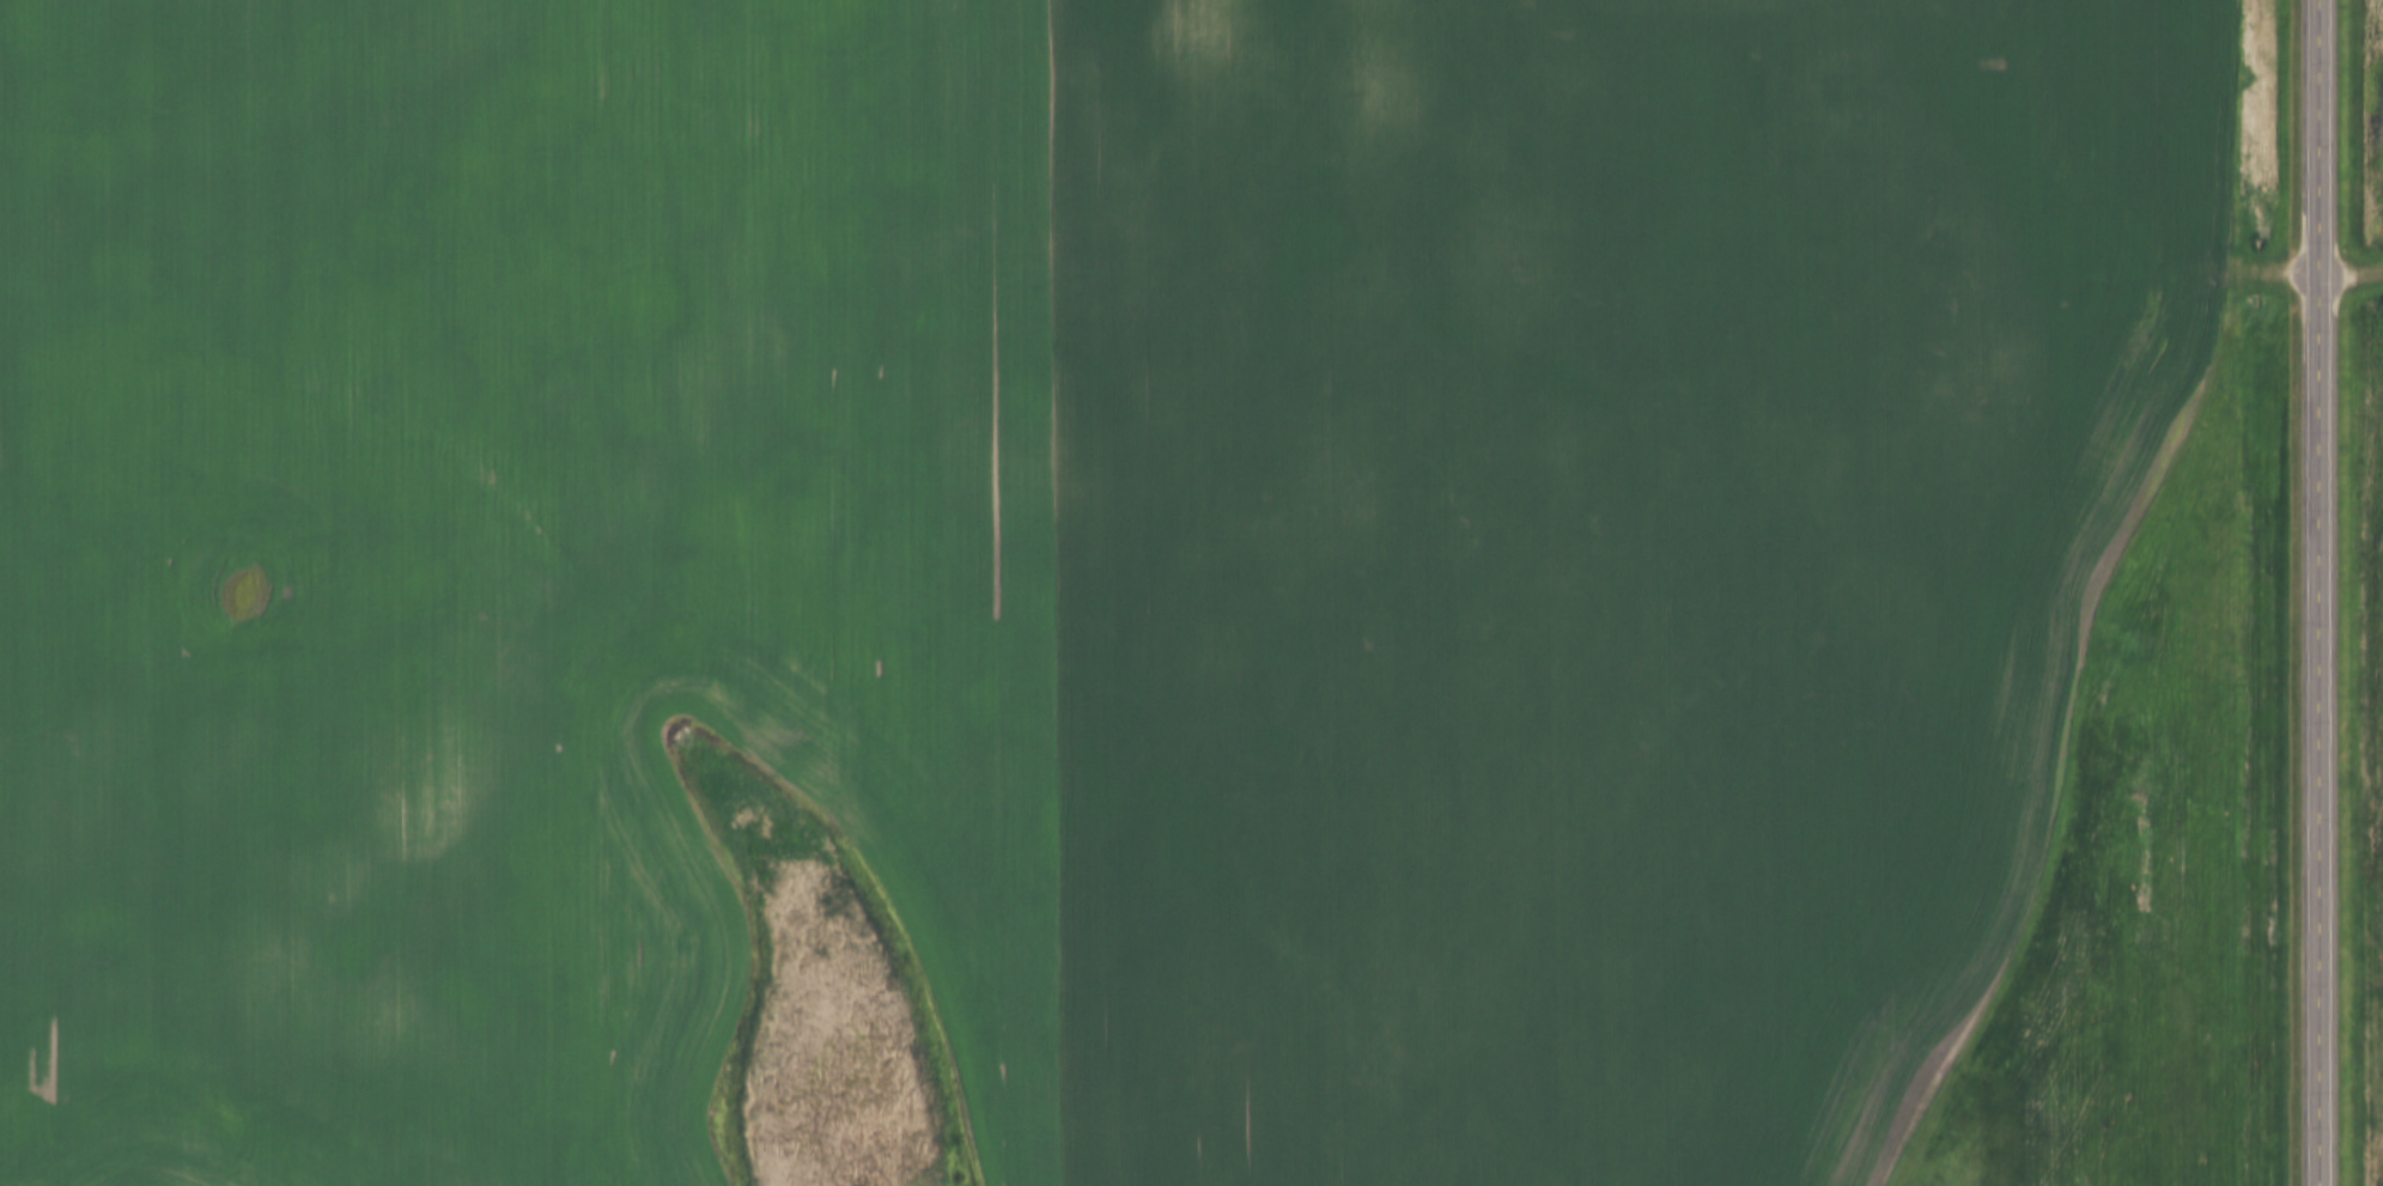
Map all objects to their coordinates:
road: (2316, 592)

